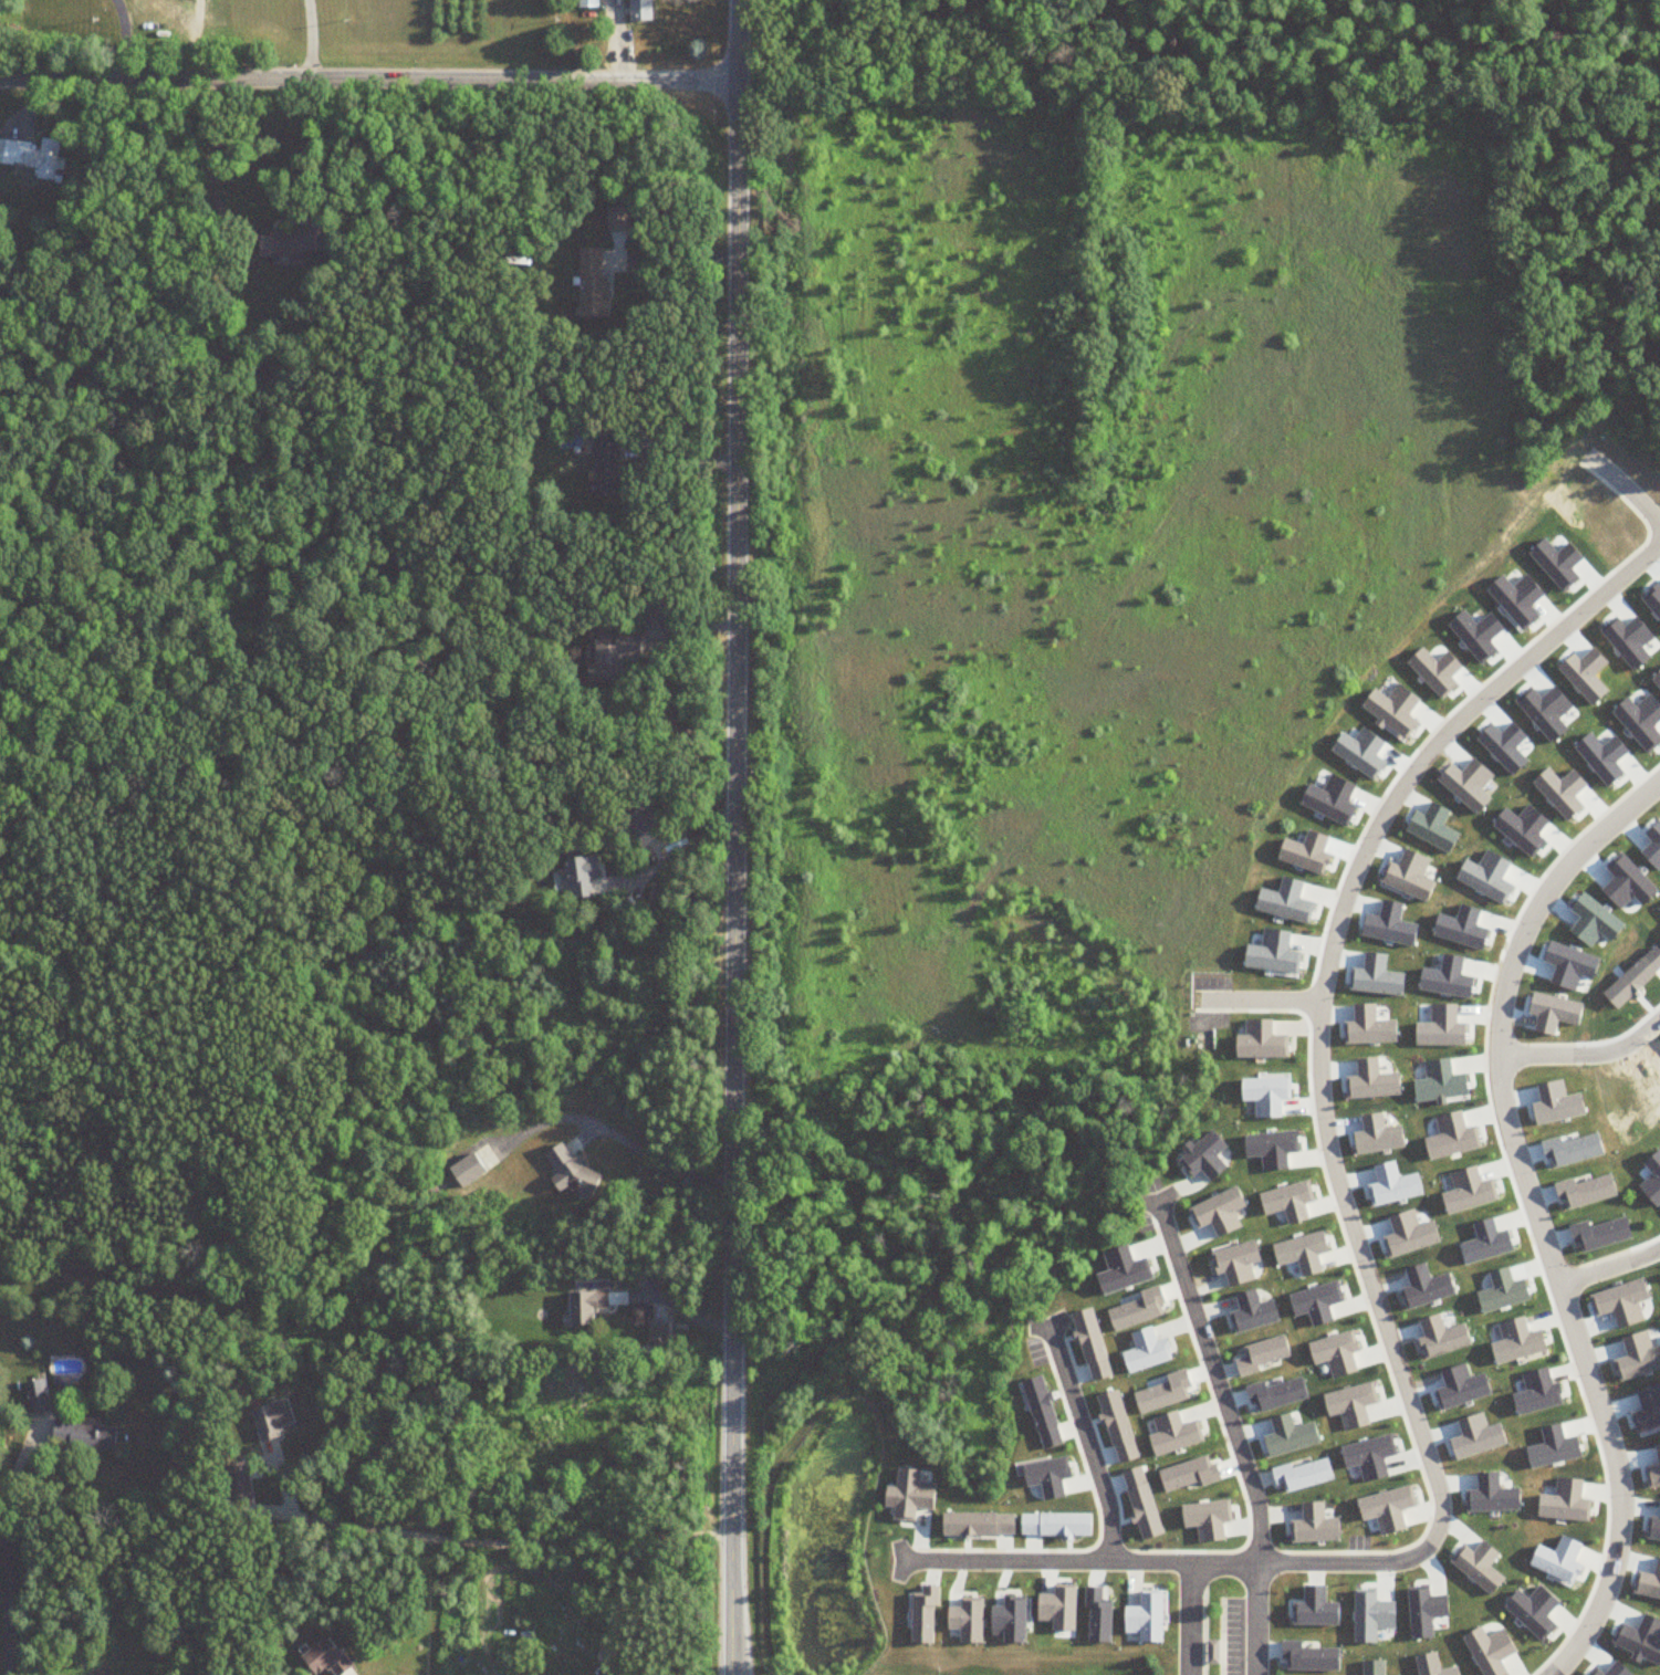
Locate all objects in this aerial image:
building: (587, 3)
building: (639, 10)
road: (122, 39)
road: (311, 40)
road: (368, 80)
road: (331, 144)
building: (32, 156)
building: (616, 219)
building: (291, 245)
road: (672, 255)
building: (591, 283)
road: (678, 454)
building: (603, 470)
road: (1627, 496)
building: (656, 614)
building: (612, 657)
road: (656, 671)
building: (641, 825)
road: (734, 837)
road: (667, 856)
building: (578, 877)
road: (1261, 996)
road: (1584, 1049)
road: (617, 1133)
building: (567, 1168)
building: (467, 1169)
road: (1533, 1212)
road: (1356, 1247)
road: (1608, 1260)
building: (585, 1304)
road: (674, 1304)
building: (656, 1333)
building: (36, 1394)
building: (271, 1418)
building: (82, 1434)
road: (1231, 1436)
road: (1088, 1446)
building: (236, 1482)
road: (494, 1540)
road: (6, 1563)
road: (1191, 1620)
building: (1211, 1652)
building: (324, 1657)

